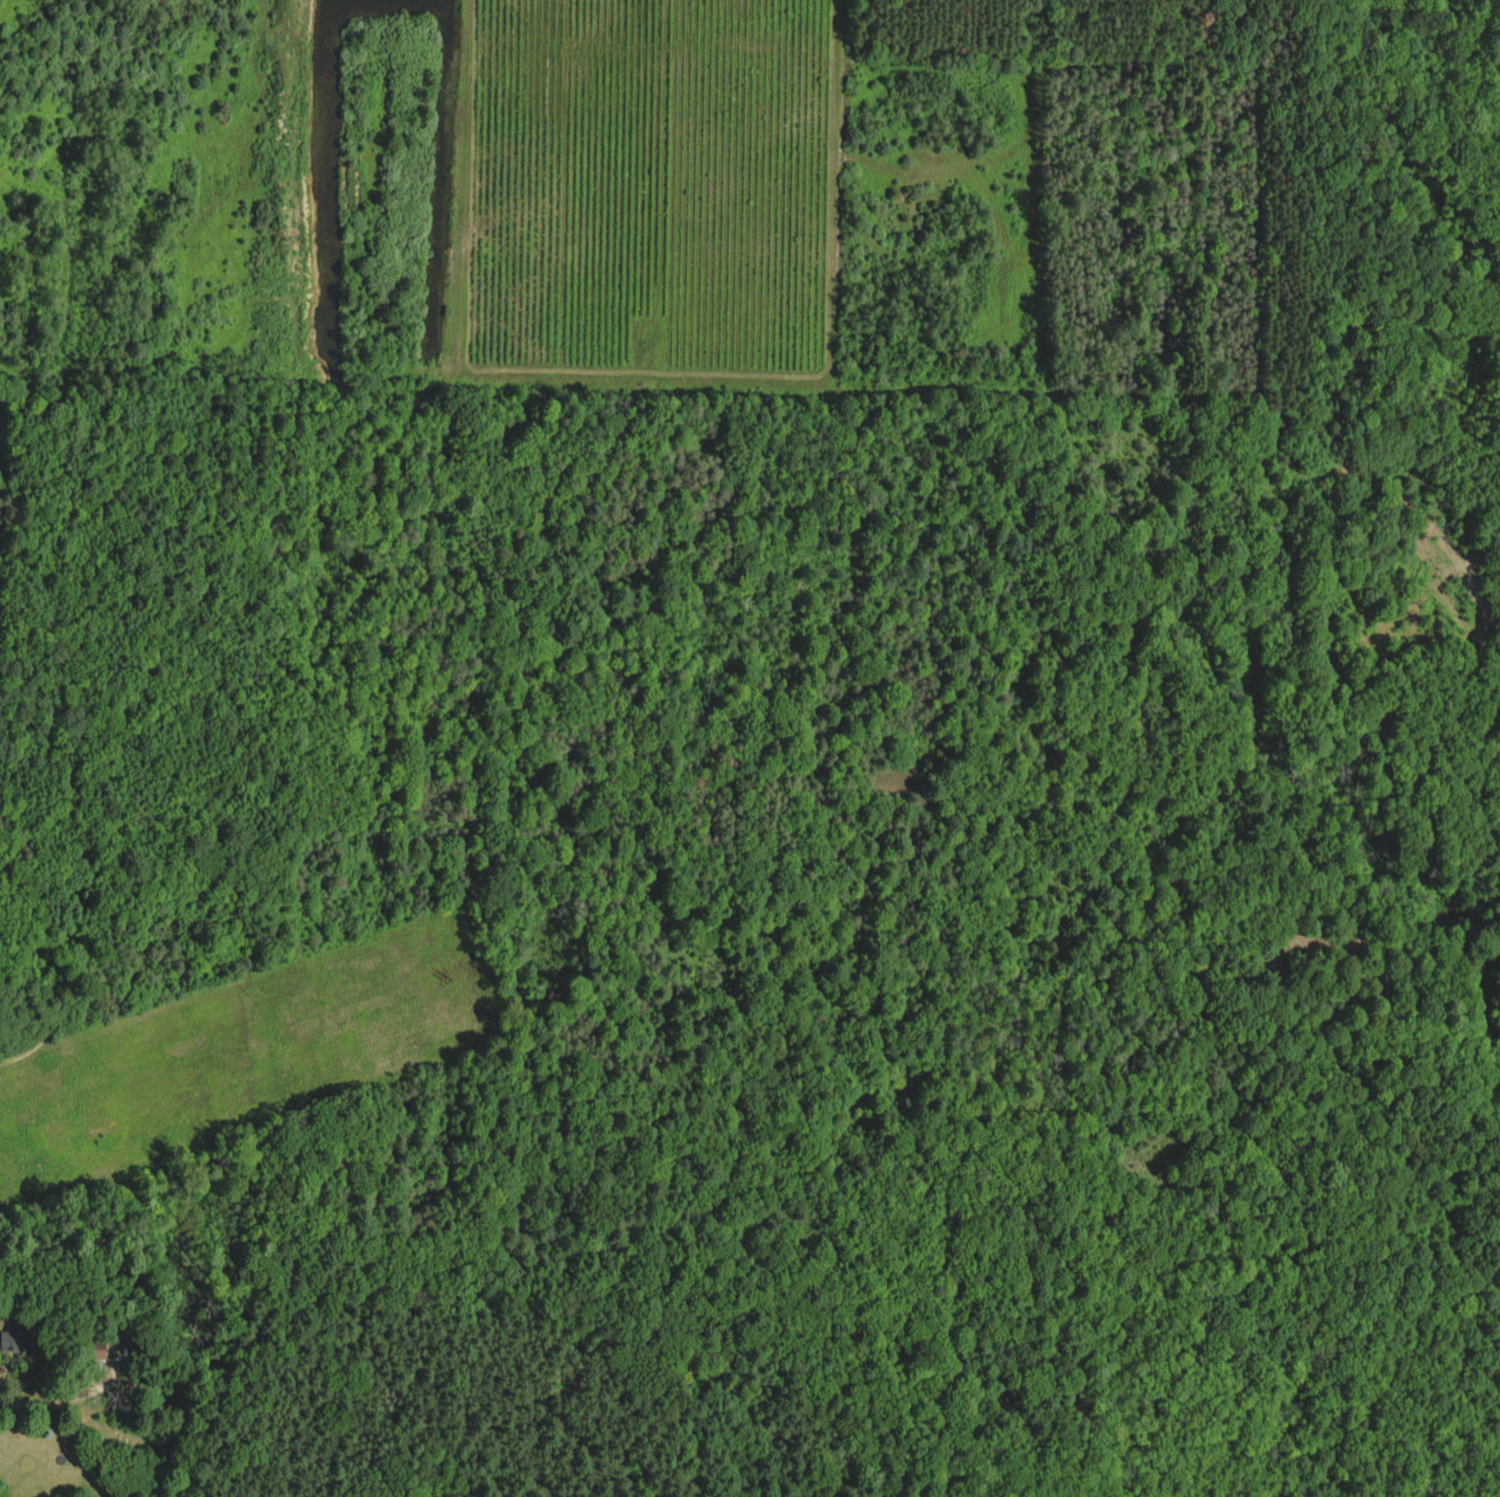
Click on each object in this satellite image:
road: (41, 1393)

